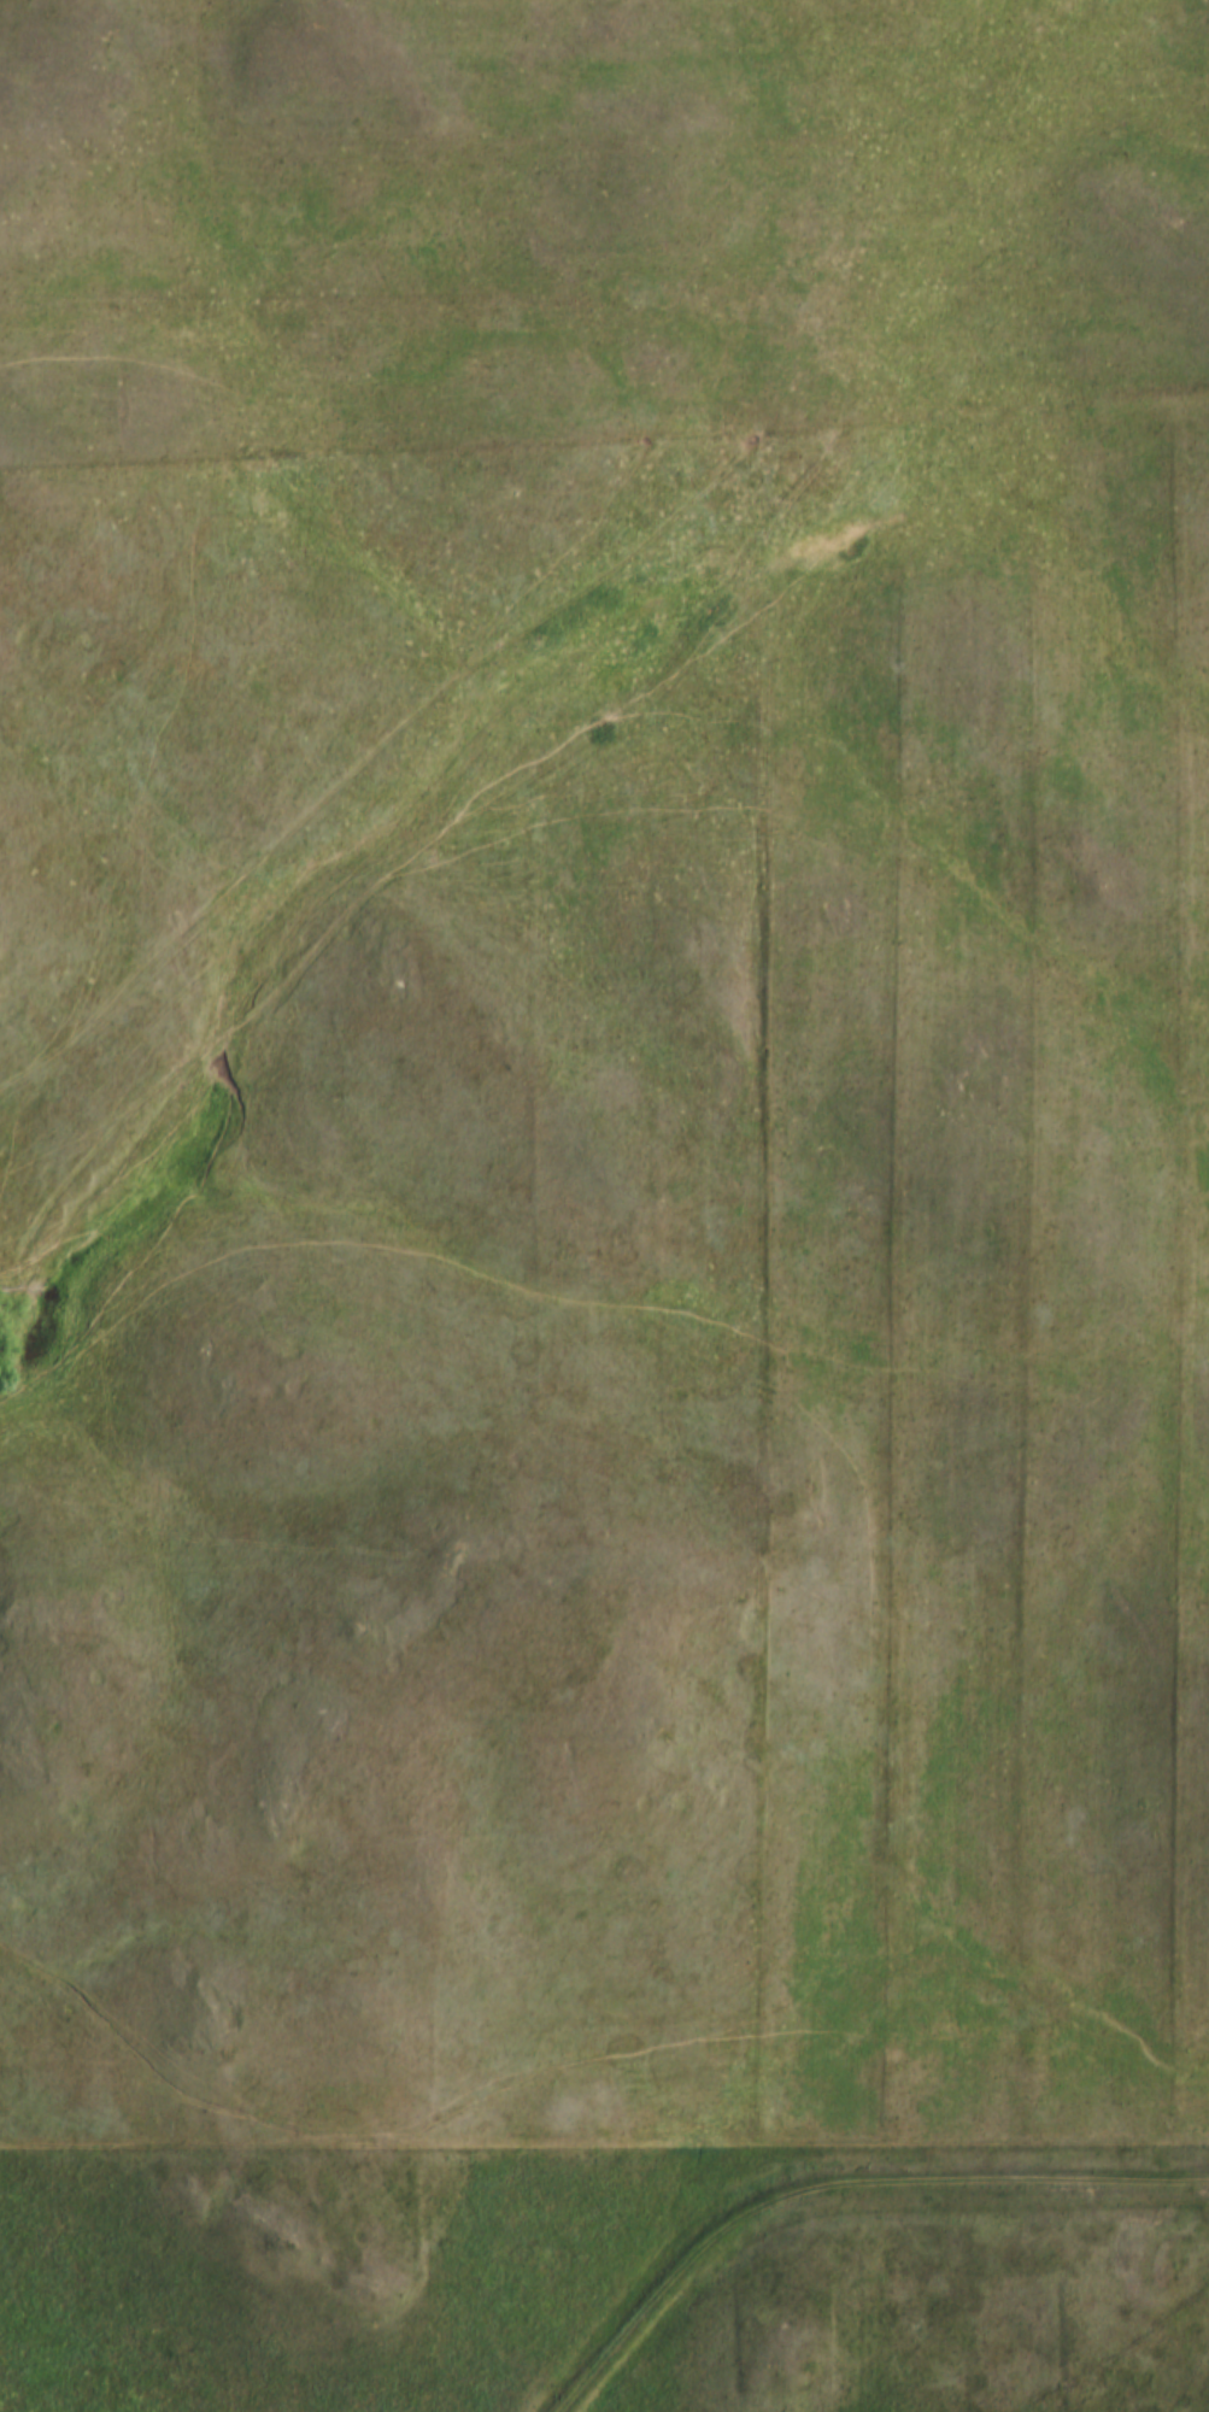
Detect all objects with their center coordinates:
road: (841, 2187)

